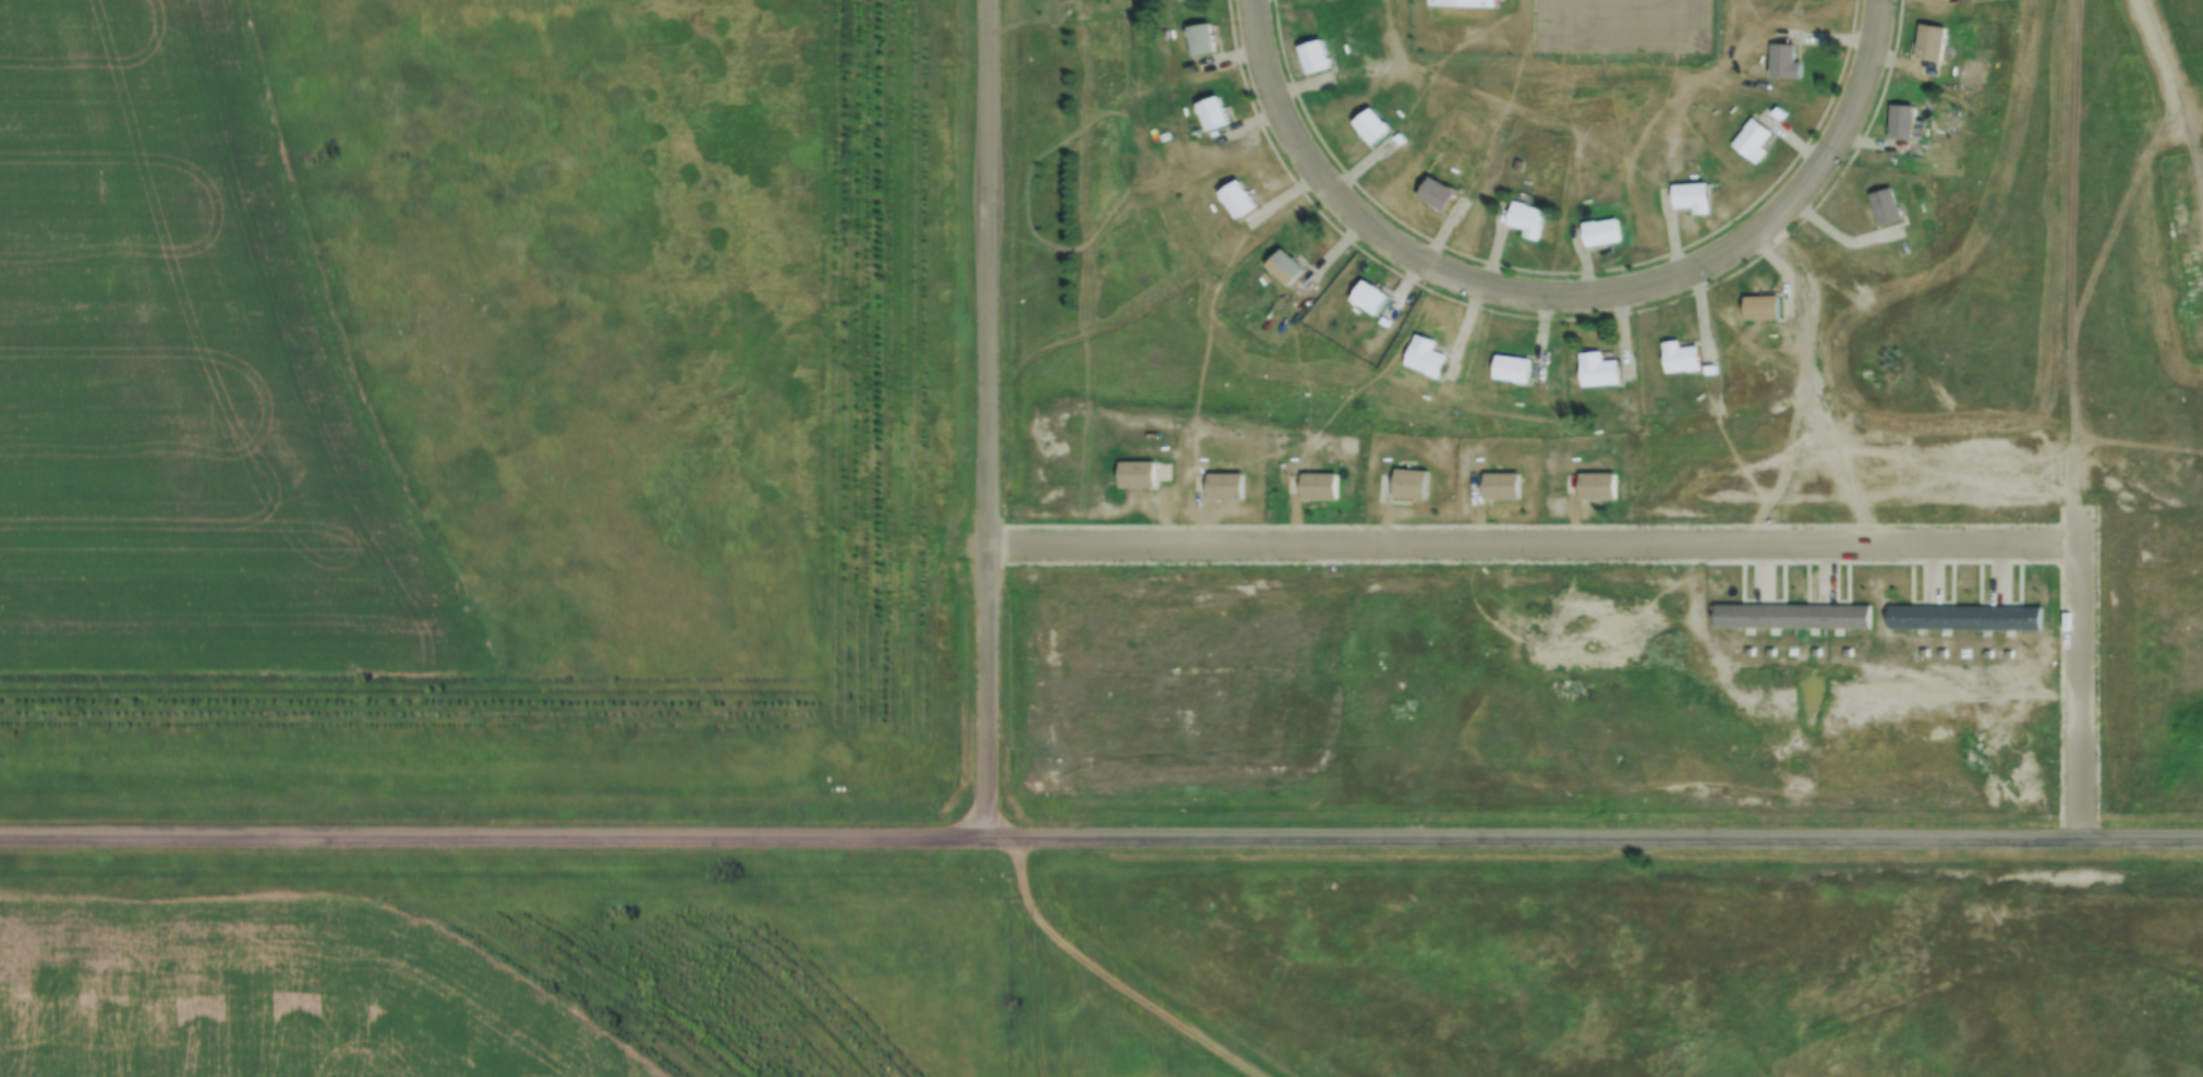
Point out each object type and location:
building: (1462, 2)
road: (1552, 19)
parking lot: (1623, 28)
building: (1199, 39)
building: (1930, 41)
building: (1314, 56)
road: (1721, 61)
building: (1783, 61)
road: (2170, 97)
building: (1211, 112)
building: (1777, 113)
building: (1901, 121)
building: (1370, 124)
building: (1752, 141)
building: (1436, 193)
building: (1692, 197)
building: (1236, 198)
building: (1884, 206)
building: (1527, 219)
building: (1600, 231)
park: (2186, 233)
building: (1283, 267)
road: (1564, 294)
building: (1368, 297)
building: (1760, 307)
building: (1424, 355)
building: (1679, 358)
building: (1511, 368)
building: (1596, 371)
building: (1708, 371)
crop: (184, 372)
road: (985, 419)
building: (1136, 474)
building: (1408, 483)
building: (1224, 485)
building: (1500, 485)
building: (1597, 485)
building: (1318, 486)
road: (1532, 543)
building: (1968, 614)
building: (1795, 616)
road: (2079, 673)
road: (1101, 839)
crop: (279, 996)

